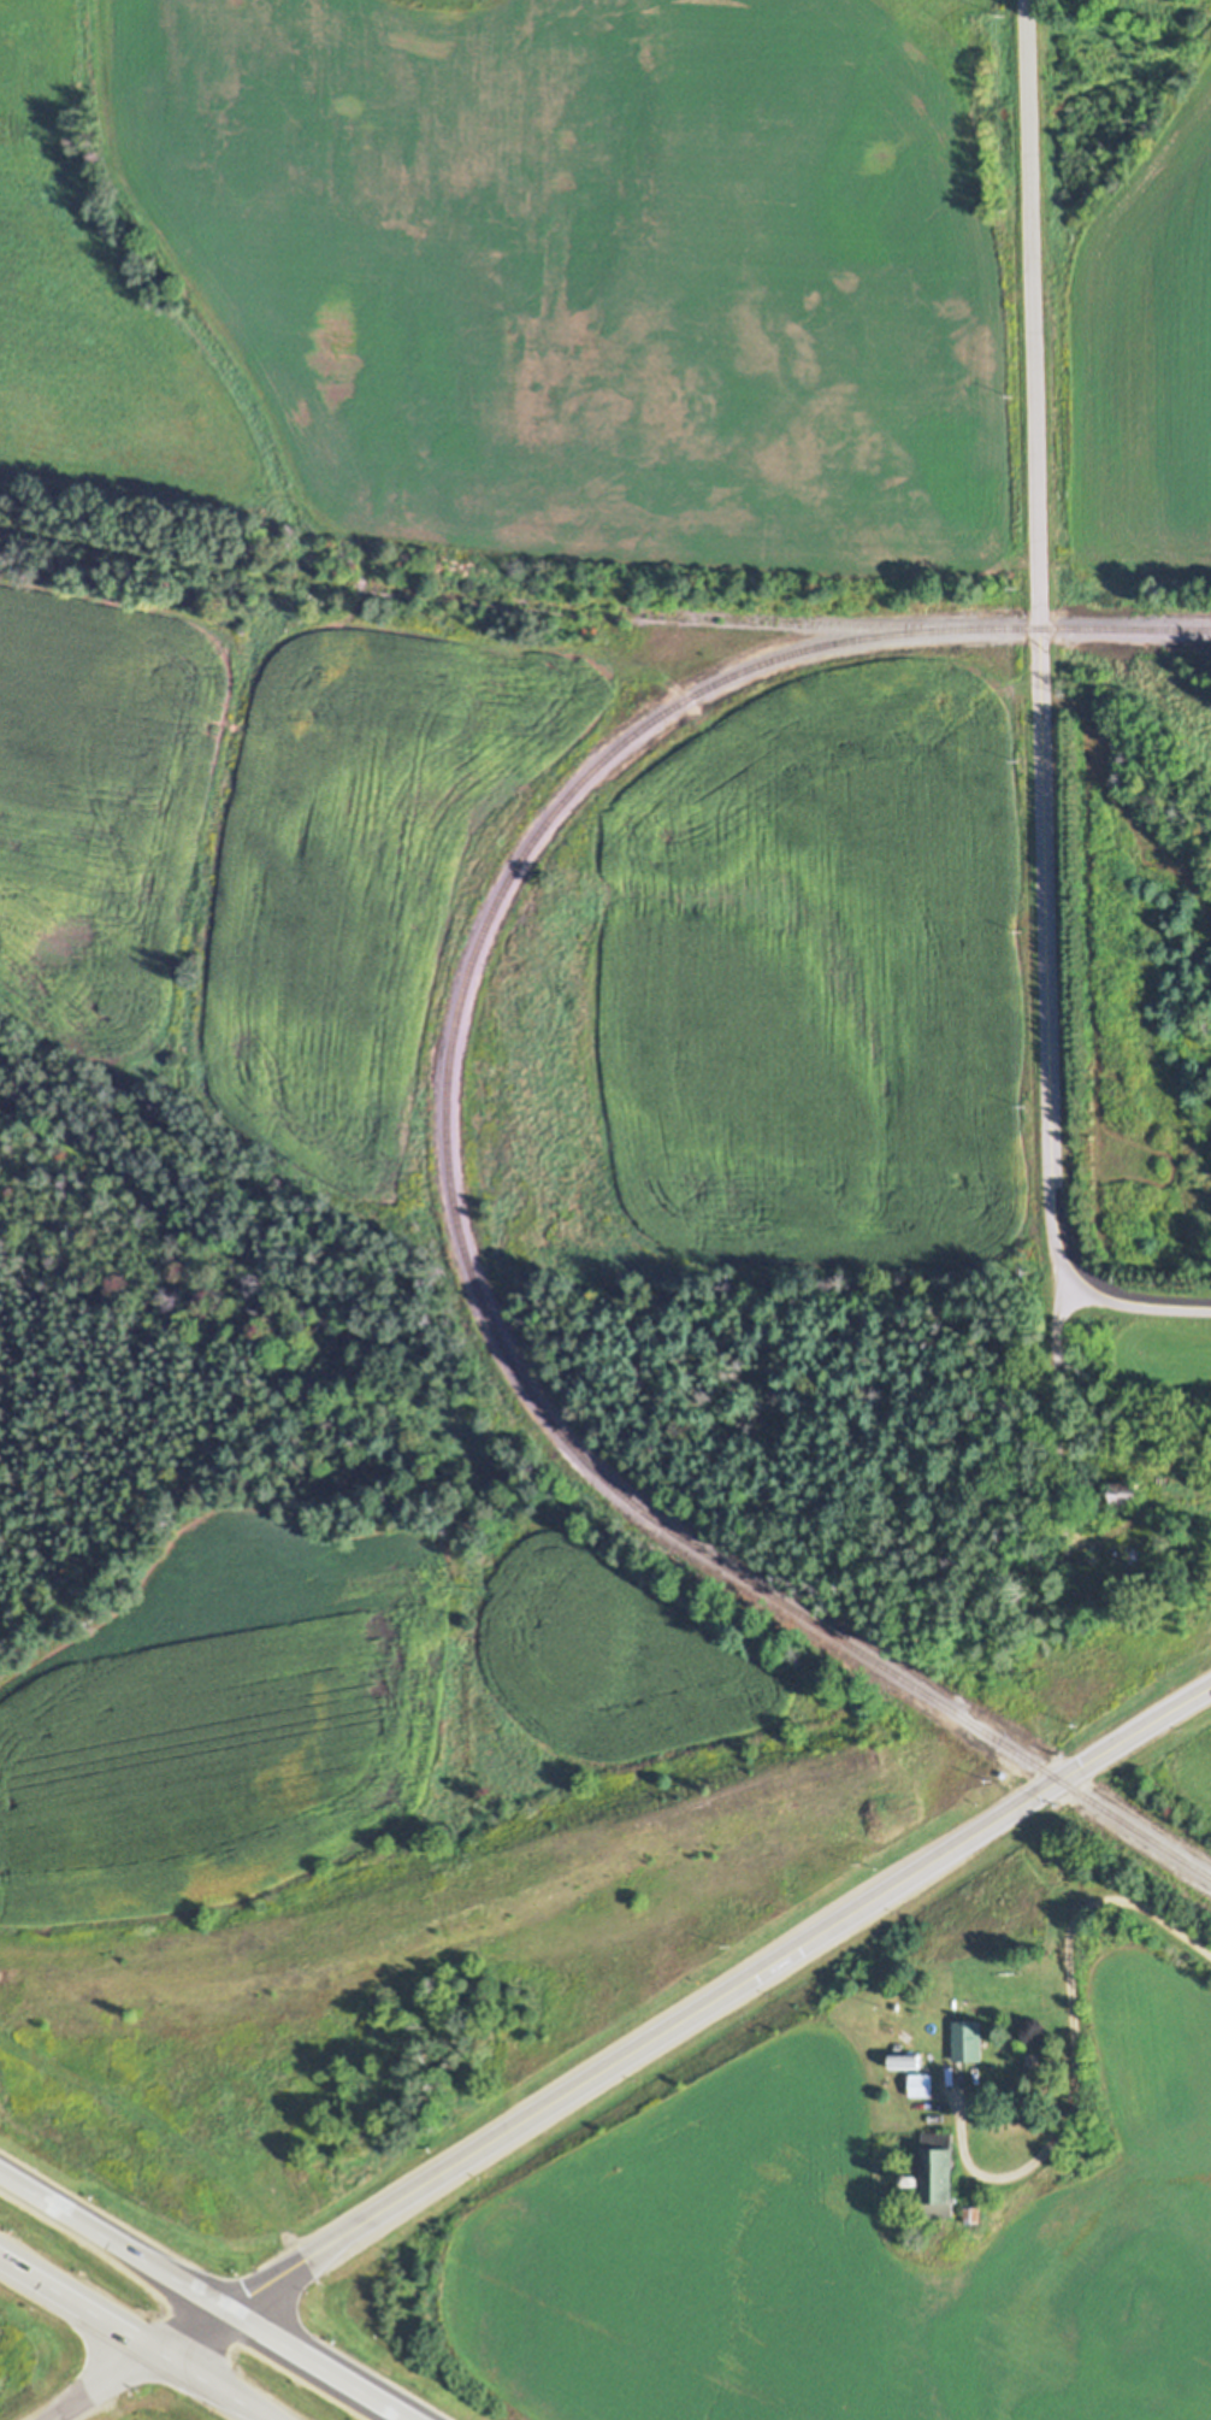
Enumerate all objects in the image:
railway: (488, 596)
road: (1038, 599)
railway: (447, 1161)
road: (1101, 1294)
building: (1127, 1494)
road: (683, 2018)
road: (1073, 2038)
building: (968, 2042)
building: (906, 2062)
building: (921, 2085)
building: (938, 2173)
road: (116, 2238)
road: (77, 2303)
road: (323, 2363)
road: (99, 2385)
road: (211, 2385)

